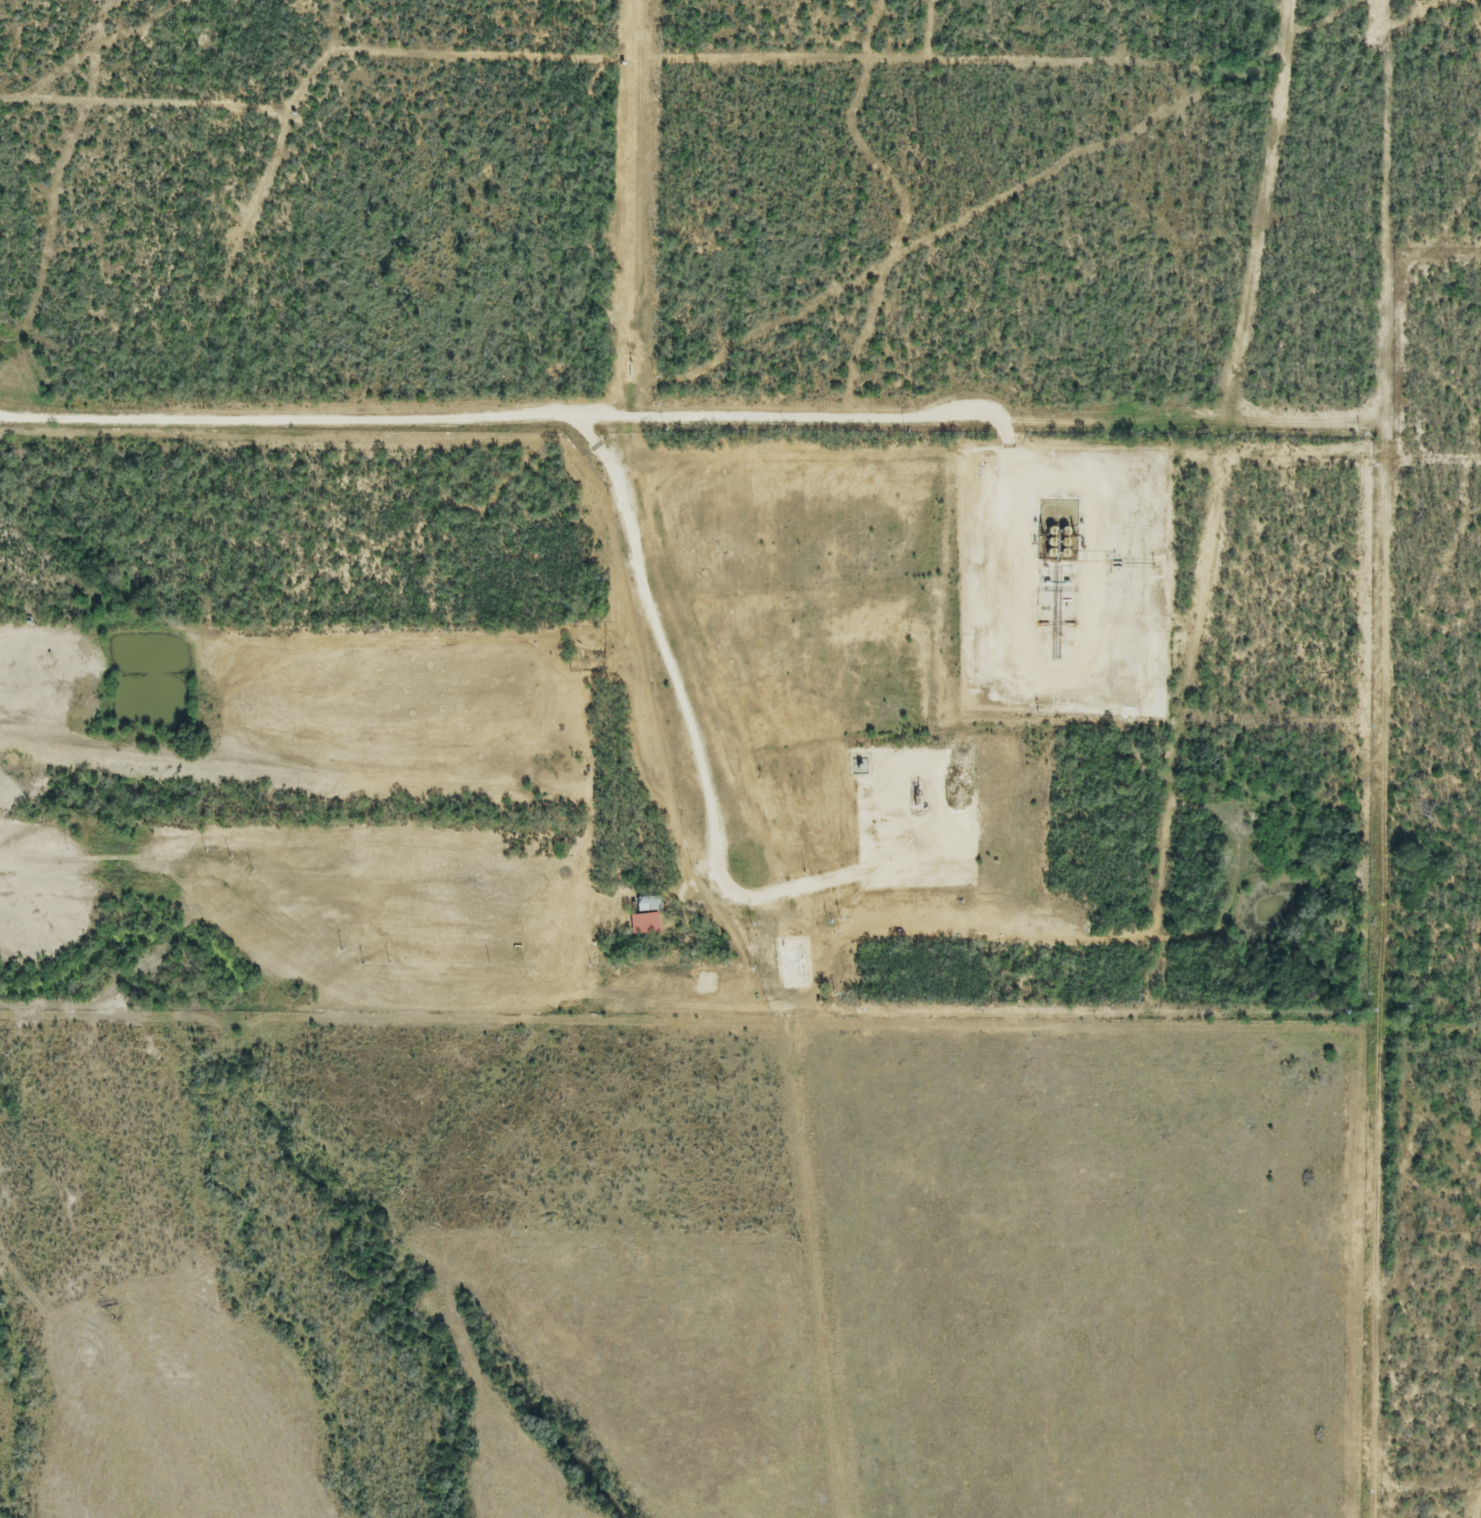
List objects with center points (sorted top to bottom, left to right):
road: (692, 414)
road: (169, 424)
road: (694, 727)
building: (648, 904)
building: (643, 925)

